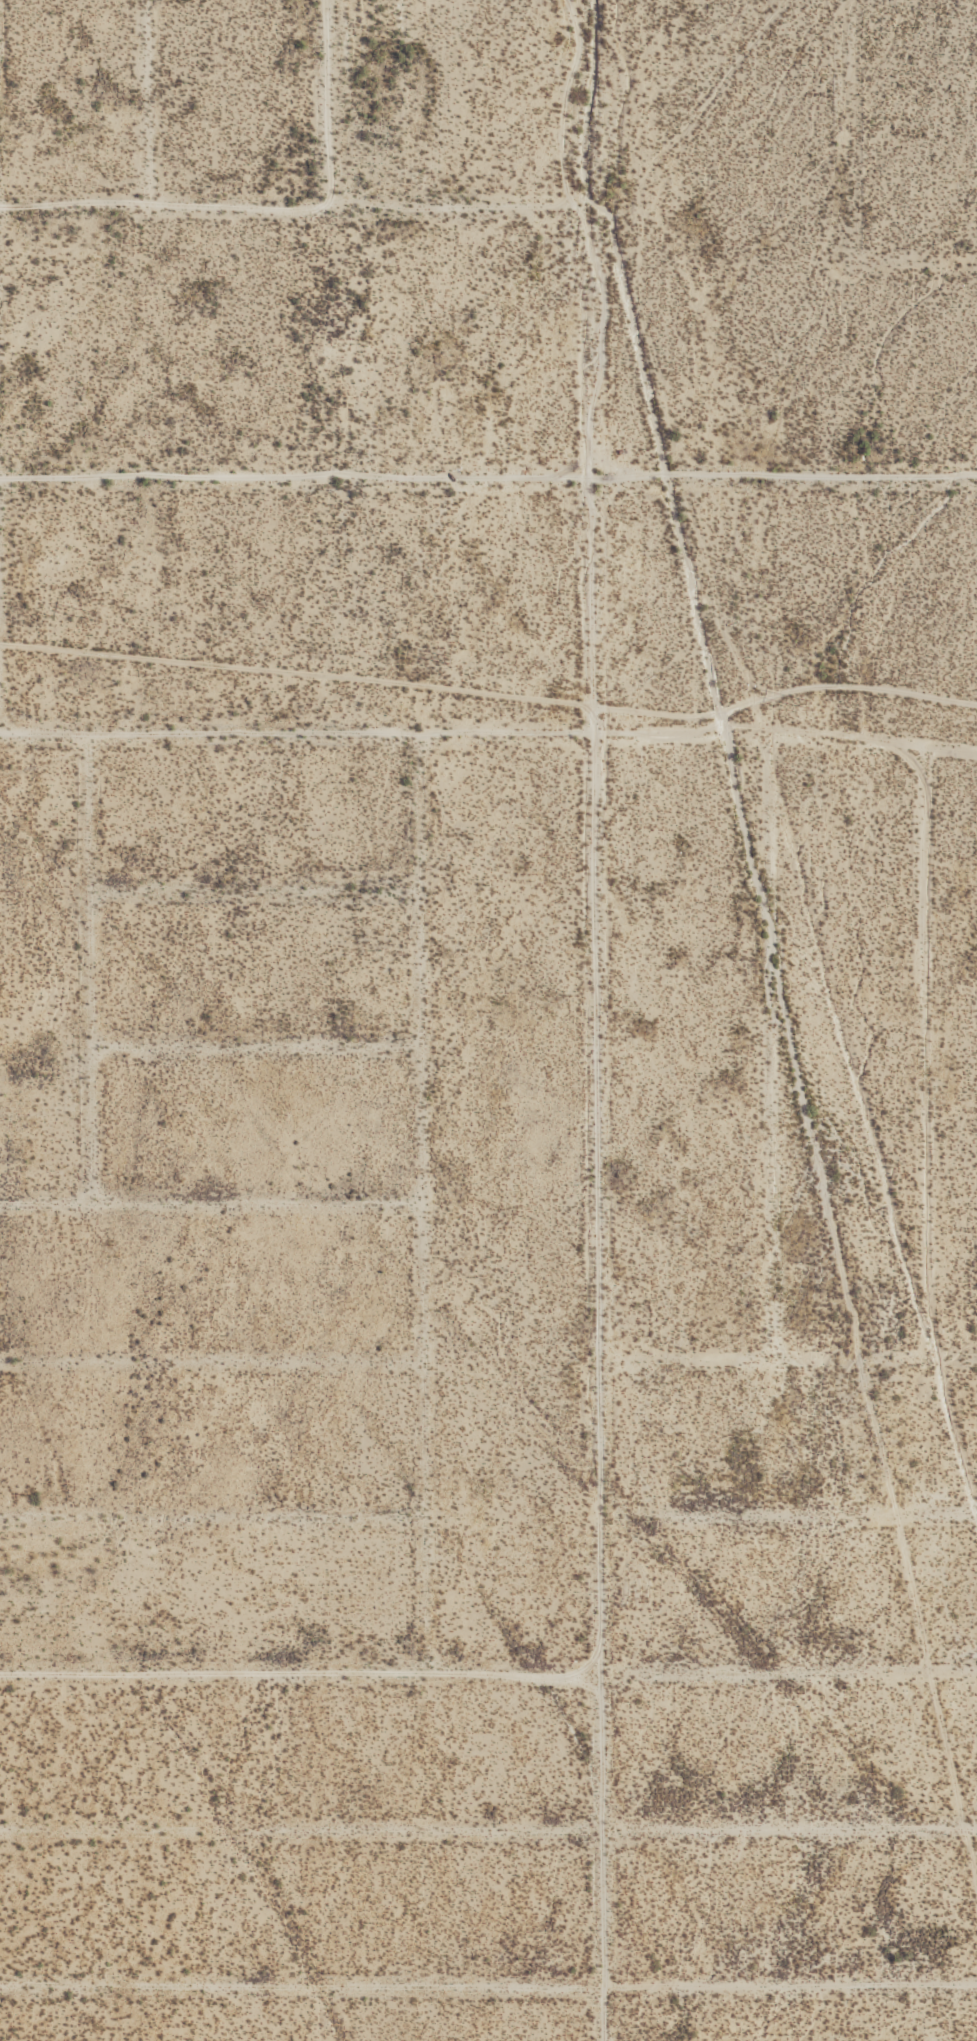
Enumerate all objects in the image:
road: (145, 112)
road: (326, 112)
road: (852, 193)
road: (488, 477)
road: (0, 688)
road: (490, 695)
road: (490, 734)
road: (730, 761)
road: (253, 886)
road: (89, 966)
road: (776, 1044)
road: (846, 1044)
road: (255, 1046)
road: (595, 1105)
road: (927, 1133)
road: (205, 1201)
road: (421, 1204)
road: (786, 1357)
road: (211, 1365)
road: (788, 1510)
road: (212, 1516)
road: (207, 1597)
road: (488, 1672)
road: (488, 1831)
road: (488, 1985)

